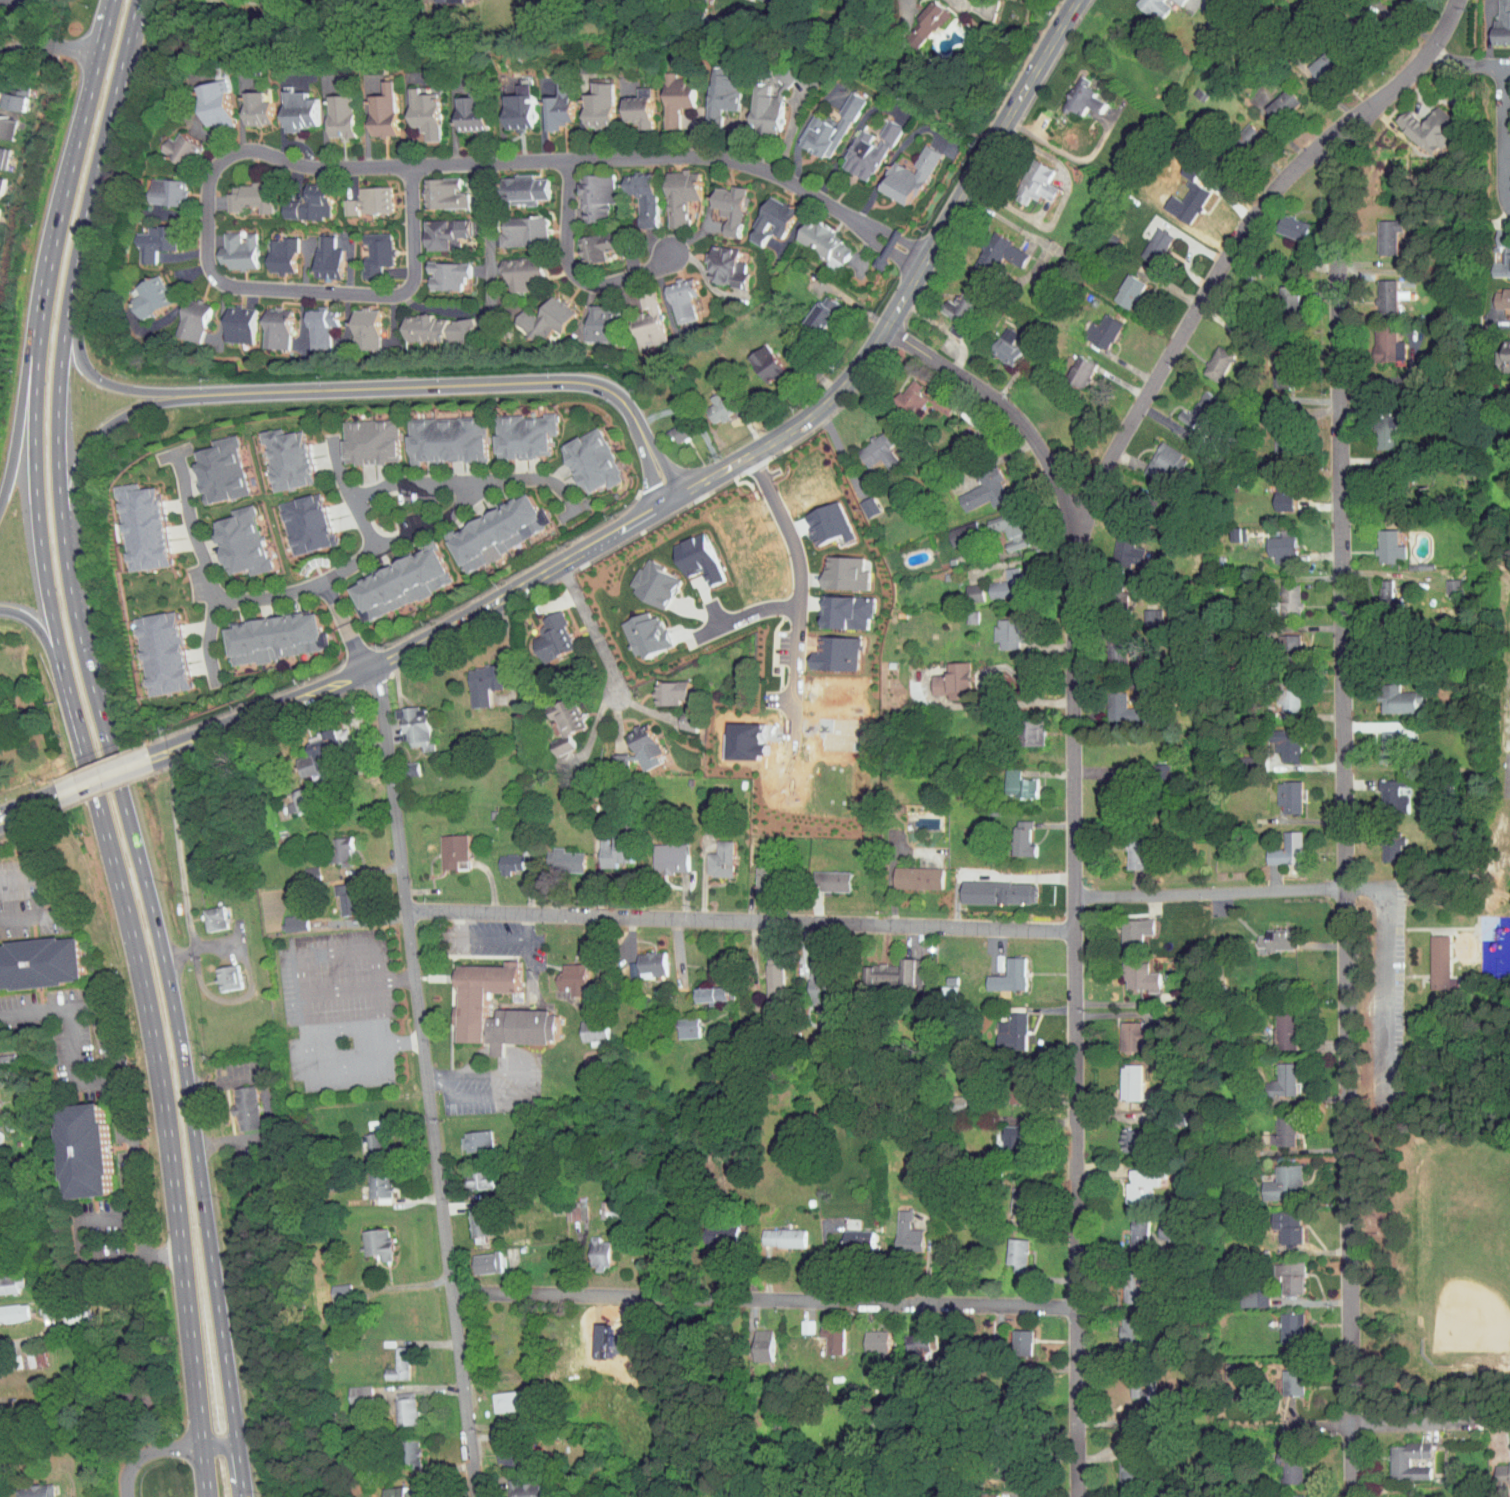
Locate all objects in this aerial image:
building: (1166, 0)
building: (1144, 5)
building: (913, 18)
building: (1496, 20)
road: (27, 22)
road: (49, 47)
building: (1314, 57)
road: (1469, 65)
building: (711, 86)
building: (664, 91)
building: (1071, 92)
building: (6, 94)
building: (202, 97)
building: (1271, 98)
building: (587, 99)
building: (507, 100)
building: (547, 101)
building: (244, 102)
building: (754, 103)
building: (286, 105)
building: (371, 105)
building: (413, 105)
building: (627, 105)
building: (458, 106)
building: (329, 109)
building: (0, 118)
building: (818, 123)
building: (1417, 123)
building: (1238, 129)
road: (1505, 138)
building: (169, 142)
building: (857, 145)
road: (101, 150)
road: (681, 155)
road: (71, 169)
road: (212, 170)
building: (898, 170)
building: (1025, 177)
building: (512, 183)
building: (155, 185)
building: (432, 187)
building: (669, 189)
building: (584, 190)
building: (238, 191)
building: (631, 191)
building: (357, 195)
building: (1180, 197)
building: (298, 198)
building: (718, 201)
building: (761, 214)
building: (1282, 221)
building: (511, 225)
building: (433, 227)
building: (1377, 230)
road: (1239, 232)
building: (143, 236)
building: (813, 236)
building: (585, 240)
building: (1145, 240)
building: (227, 245)
building: (989, 246)
building: (365, 248)
building: (1496, 249)
building: (270, 250)
building: (316, 252)
building: (714, 261)
building: (511, 267)
building: (435, 269)
road: (573, 271)
road: (487, 282)
road: (911, 282)
building: (1117, 285)
building: (140, 290)
building: (1376, 290)
building: (1277, 291)
building: (671, 293)
building: (1497, 294)
building: (948, 305)
building: (810, 307)
building: (533, 313)
building: (181, 314)
building: (637, 316)
building: (227, 318)
building: (588, 318)
building: (309, 321)
building: (264, 323)
building: (353, 323)
building: (425, 323)
building: (1091, 325)
building: (1377, 339)
building: (995, 341)
building: (1501, 349)
building: (754, 358)
building: (1207, 358)
building: (1069, 365)
building: (1270, 366)
road: (103, 381)
road: (462, 385)
building: (899, 391)
building: (930, 398)
building: (707, 403)
building: (1186, 405)
road: (24, 423)
building: (670, 426)
building: (1375, 426)
building: (513, 430)
building: (434, 433)
building: (358, 435)
road: (91, 441)
building: (867, 446)
road: (840, 449)
building: (277, 453)
building: (580, 456)
building: (1153, 456)
building: (210, 464)
road: (467, 480)
building: (973, 485)
building: (1273, 490)
road: (346, 495)
road: (35, 497)
building: (857, 500)
building: (295, 518)
building: (132, 521)
building: (998, 524)
building: (485, 526)
building: (951, 528)
building: (230, 536)
building: (1377, 541)
building: (1270, 543)
building: (1117, 548)
building: (685, 552)
road: (356, 561)
road: (201, 566)
building: (832, 567)
building: (387, 578)
building: (642, 578)
building: (995, 579)
building: (1442, 580)
building: (1375, 582)
building: (963, 587)
road: (797, 590)
building: (1278, 594)
building: (834, 606)
road: (751, 614)
road: (37, 618)
road: (347, 625)
building: (998, 627)
building: (635, 629)
building: (262, 632)
building: (542, 632)
road: (597, 634)
building: (1279, 641)
road: (419, 643)
building: (151, 647)
building: (1105, 648)
building: (941, 676)
building: (472, 679)
road: (983, 691)
building: (1278, 691)
building: (1388, 693)
building: (1113, 704)
park: (1505, 712)
building: (677, 716)
building: (553, 718)
building: (404, 721)
building: (1021, 727)
building: (1277, 739)
building: (633, 741)
building: (1378, 742)
building: (301, 755)
building: (1151, 766)
road: (104, 778)
building: (1008, 779)
building: (1279, 791)
building: (1382, 791)
building: (288, 796)
road: (29, 809)
road: (1345, 818)
building: (1011, 833)
building: (1381, 843)
building: (329, 845)
building: (1276, 845)
building: (442, 846)
building: (604, 846)
building: (1126, 850)
building: (659, 853)
building: (709, 854)
building: (553, 855)
building: (498, 858)
road: (179, 865)
road: (1076, 869)
road: (140, 871)
building: (906, 872)
building: (753, 875)
building: (820, 876)
building: (987, 886)
road: (1363, 887)
road: (1211, 890)
building: (335, 892)
road: (56, 897)
building: (203, 913)
building: (283, 917)
road: (742, 919)
building: (1123, 927)
building: (1265, 934)
road: (491, 936)
building: (33, 957)
building: (1429, 958)
building: (640, 959)
building: (1439, 962)
building: (886, 969)
building: (998, 971)
building: (217, 972)
building: (1129, 972)
building: (561, 973)
building: (763, 973)
parking lot: (1387, 981)
building: (807, 983)
road: (1385, 983)
road: (340, 988)
building: (701, 989)
building: (474, 999)
road: (302, 1005)
parking lot: (339, 1010)
road: (381, 1012)
building: (676, 1023)
building: (582, 1024)
building: (1273, 1025)
building: (1001, 1027)
road: (344, 1030)
building: (1121, 1031)
building: (1, 1055)
road: (157, 1070)
park: (1446, 1071)
building: (1272, 1075)
building: (1119, 1077)
building: (1009, 1079)
road: (434, 1080)
road: (426, 1083)
road: (520, 1085)
road: (124, 1093)
building: (234, 1103)
building: (1273, 1126)
building: (1001, 1131)
building: (1120, 1135)
building: (465, 1136)
building: (364, 1139)
building: (69, 1144)
building: (469, 1173)
building: (1273, 1178)
building: (1128, 1179)
building: (368, 1180)
building: (1010, 1199)
building: (565, 1203)
building: (469, 1215)
building: (1277, 1220)
building: (1160, 1223)
building: (896, 1227)
building: (708, 1228)
building: (1127, 1229)
building: (772, 1231)
building: (847, 1232)
building: (366, 1236)
building: (1006, 1247)
building: (589, 1248)
park: (1462, 1251)
building: (476, 1256)
building: (1280, 1270)
building: (7, 1276)
building: (1122, 1279)
building: (329, 1286)
building: (1243, 1291)
road: (764, 1299)
building: (8, 1306)
building: (796, 1320)
building: (1281, 1321)
building: (1117, 1323)
building: (822, 1333)
building: (865, 1335)
building: (1011, 1336)
building: (906, 1337)
building: (752, 1339)
building: (23, 1354)
building: (387, 1358)
building: (1282, 1376)
building: (1131, 1381)
building: (348, 1389)
building: (496, 1395)
building: (394, 1403)
road: (1432, 1422)
road: (217, 1444)
building: (400, 1447)
building: (498, 1449)
road: (146, 1452)
building: (1397, 1455)
building: (1121, 1460)
building: (1280, 1460)
building: (1497, 1467)
road: (238, 1470)
building: (512, 1486)
building: (24, 1488)
building: (389, 1489)
building: (1279, 1492)
building: (1388, 1493)

